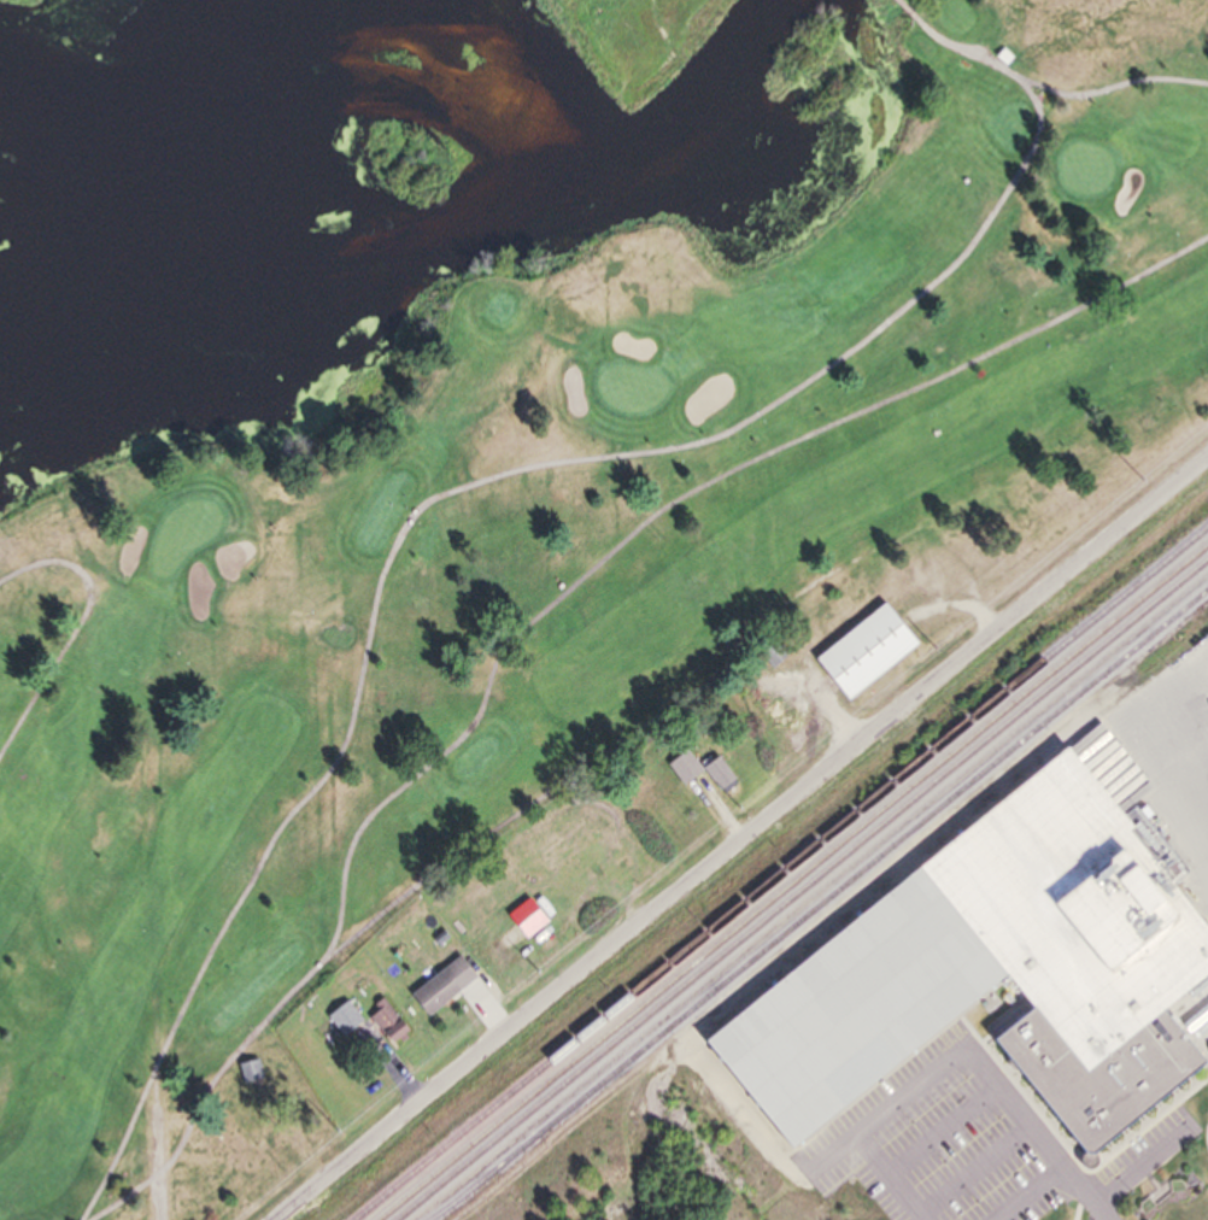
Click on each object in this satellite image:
road: (908, 10)
river: (743, 61)
road: (1110, 88)
river: (362, 285)
road: (488, 479)
road: (675, 503)
park: (581, 538)
road: (77, 629)
building: (872, 653)
road: (1186, 756)
building: (690, 762)
road: (746, 841)
road: (436, 873)
railway: (782, 875)
railway: (793, 882)
railway: (803, 890)
railway: (821, 905)
building: (987, 980)
building: (446, 983)
building: (387, 1022)
road: (928, 1068)
building: (251, 1072)
road: (1143, 1160)
road: (1031, 1191)
road: (1091, 1191)

